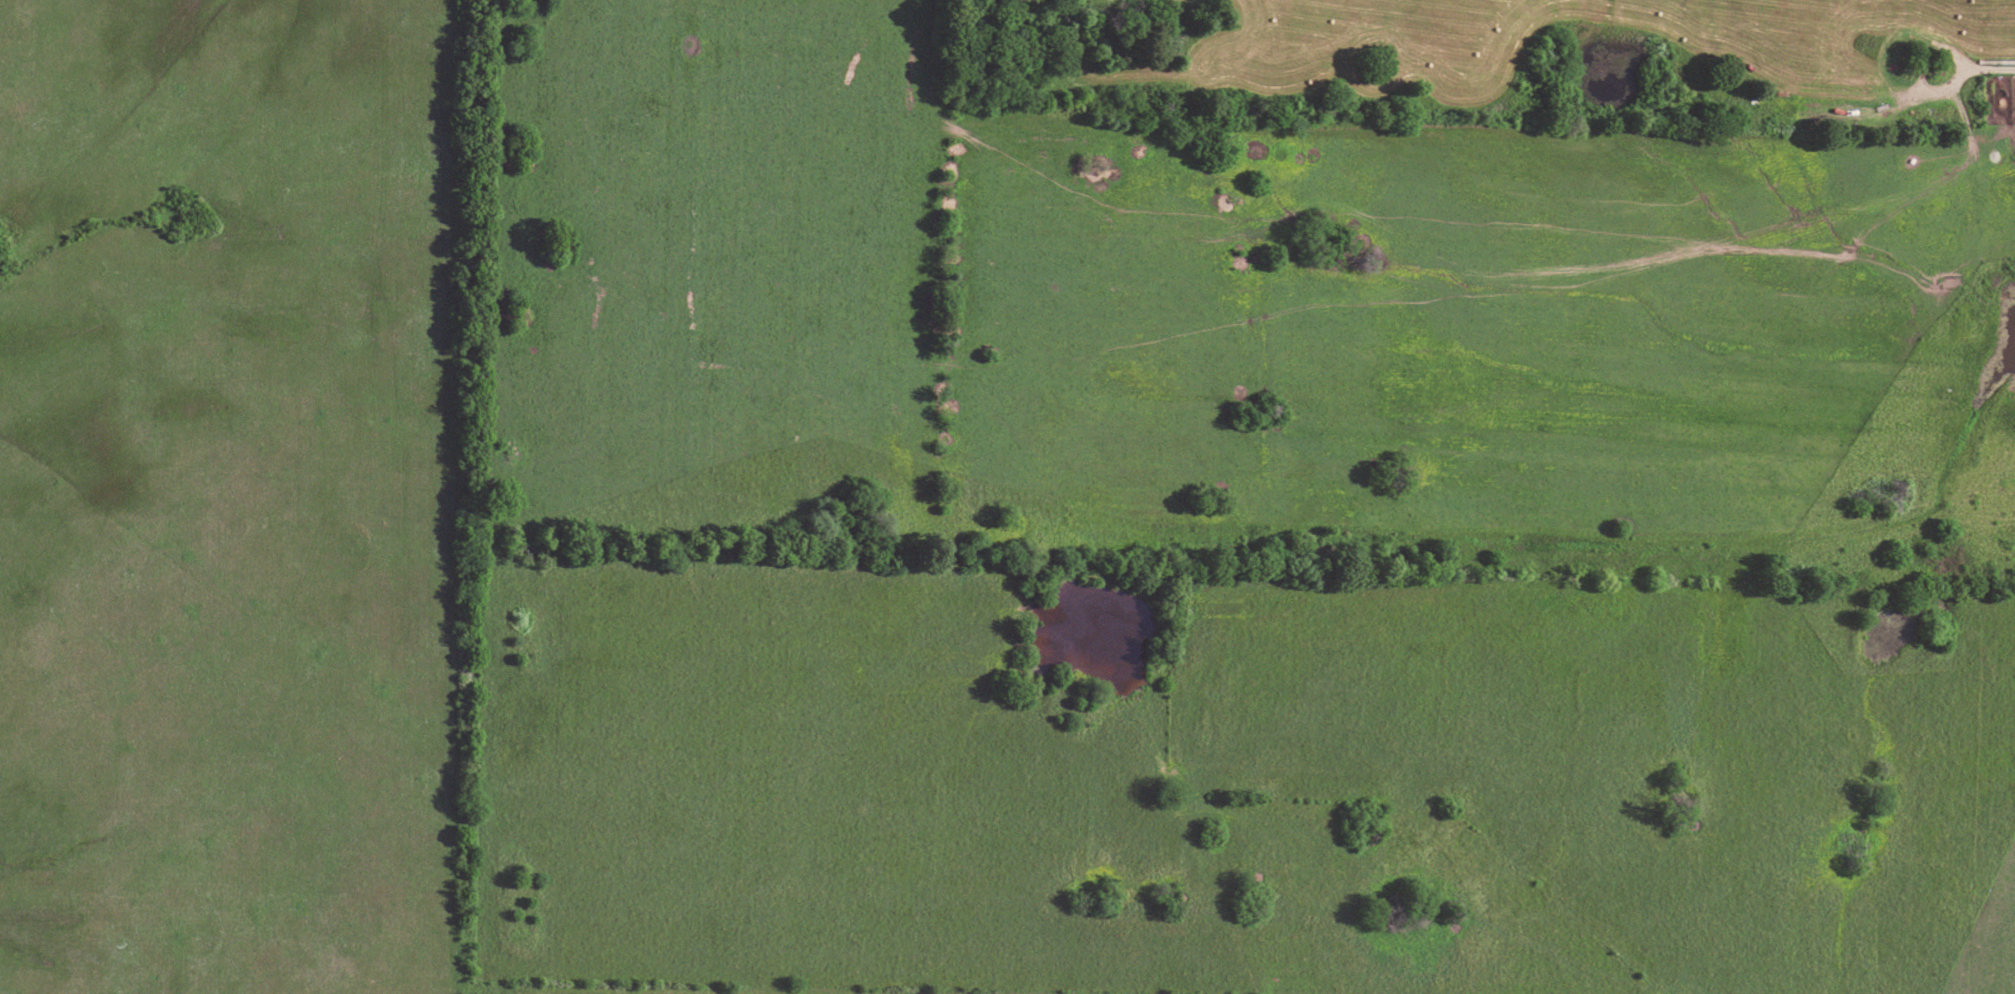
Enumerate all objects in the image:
road: (2013, 67)

